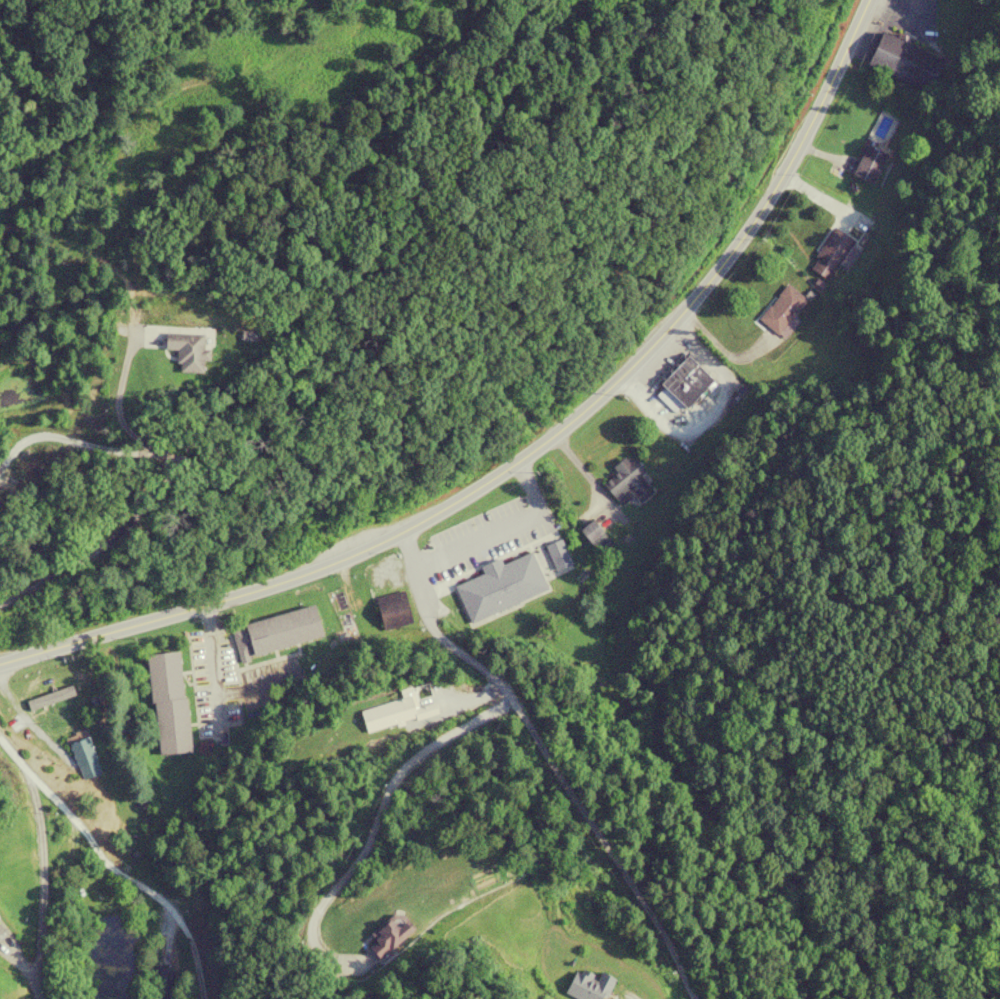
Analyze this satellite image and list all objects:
building: (903, 62)
building: (868, 165)
building: (832, 254)
building: (781, 309)
building: (187, 351)
building: (682, 387)
road: (116, 400)
road: (528, 451)
building: (627, 483)
road: (166, 484)
road: (12, 499)
building: (595, 539)
building: (556, 563)
building: (382, 569)
building: (393, 617)
building: (275, 632)
road: (214, 657)
building: (167, 703)
building: (393, 713)
building: (84, 757)
road: (549, 758)
road: (114, 868)
building: (1, 927)
building: (388, 934)
building: (160, 985)
building: (587, 986)

